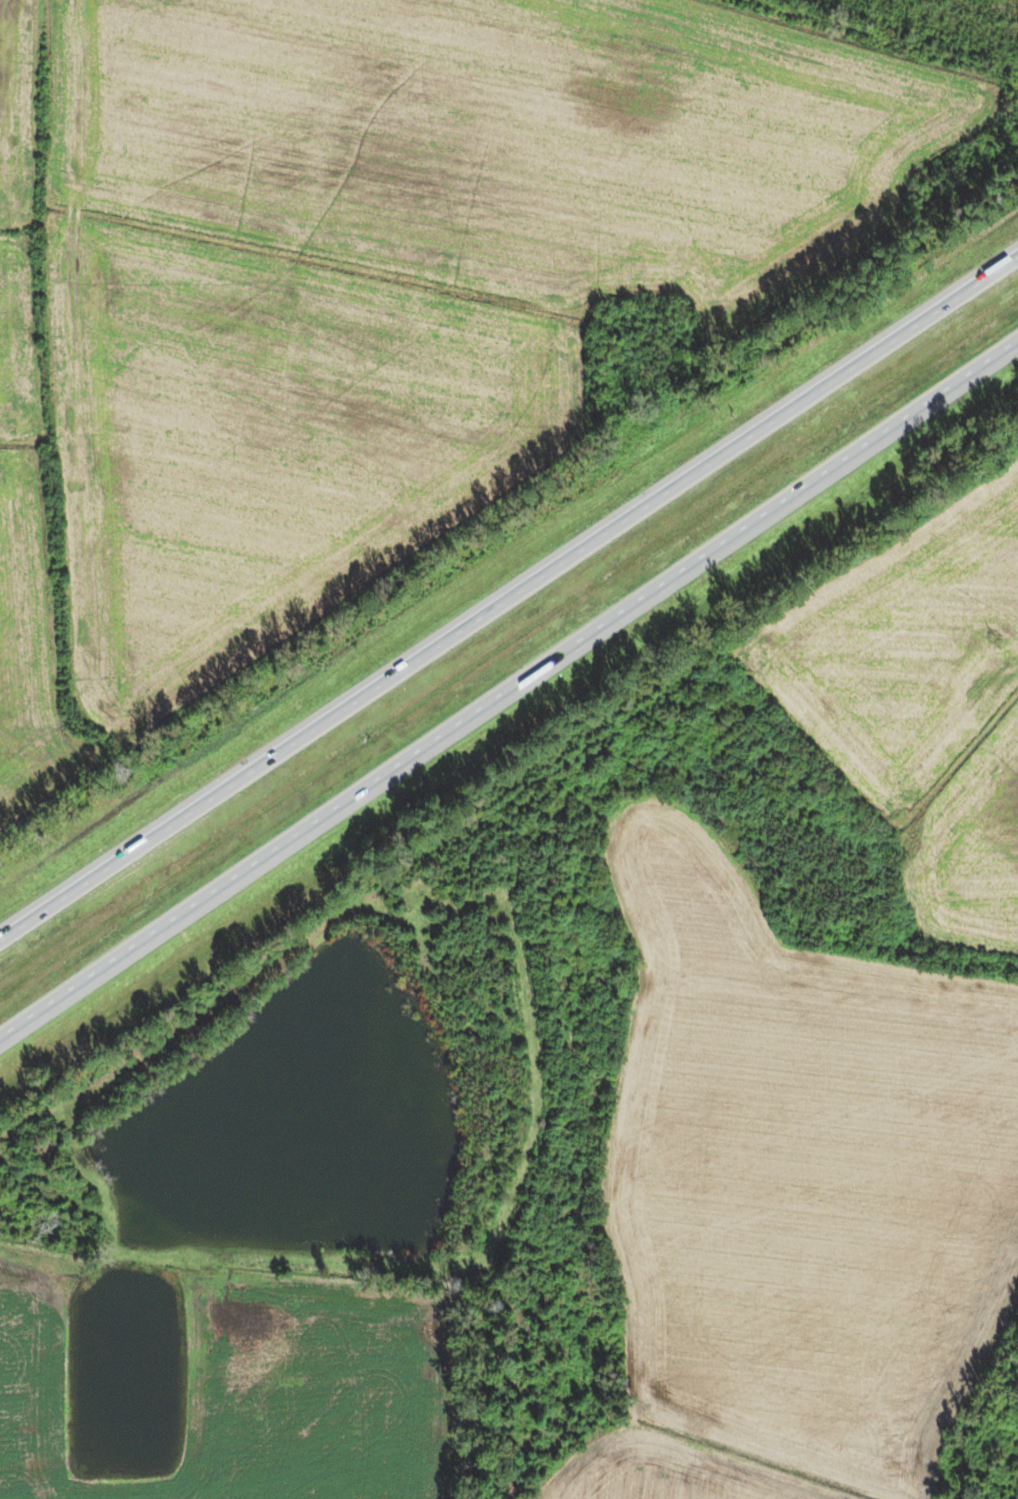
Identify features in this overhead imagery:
road: (509, 604)
road: (508, 692)
road: (514, 1198)

